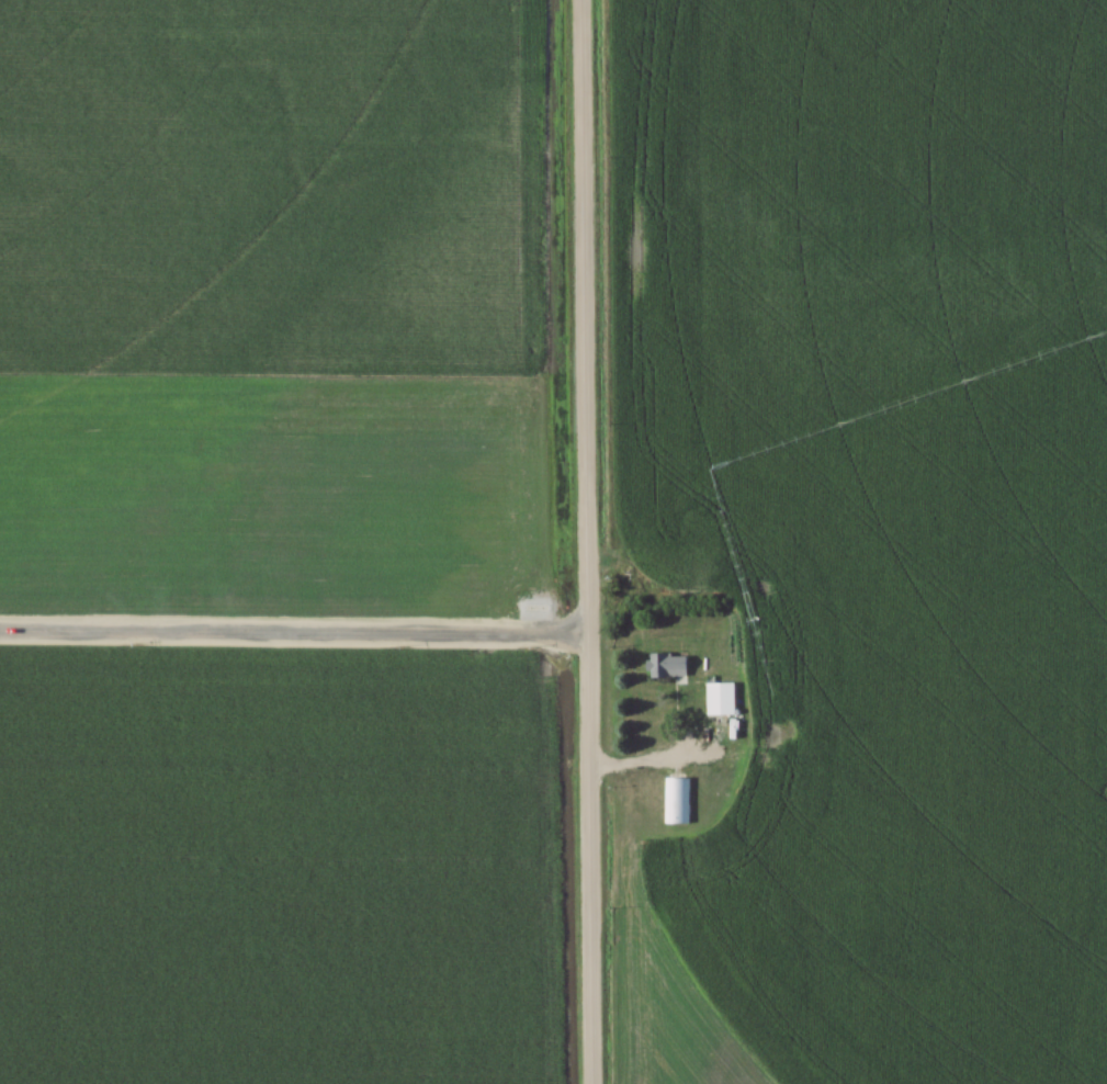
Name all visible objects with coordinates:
crop: (279, 495)
road: (580, 542)
road: (291, 633)
building: (667, 666)
building: (719, 693)
building: (764, 749)
road: (649, 760)
building: (677, 795)

